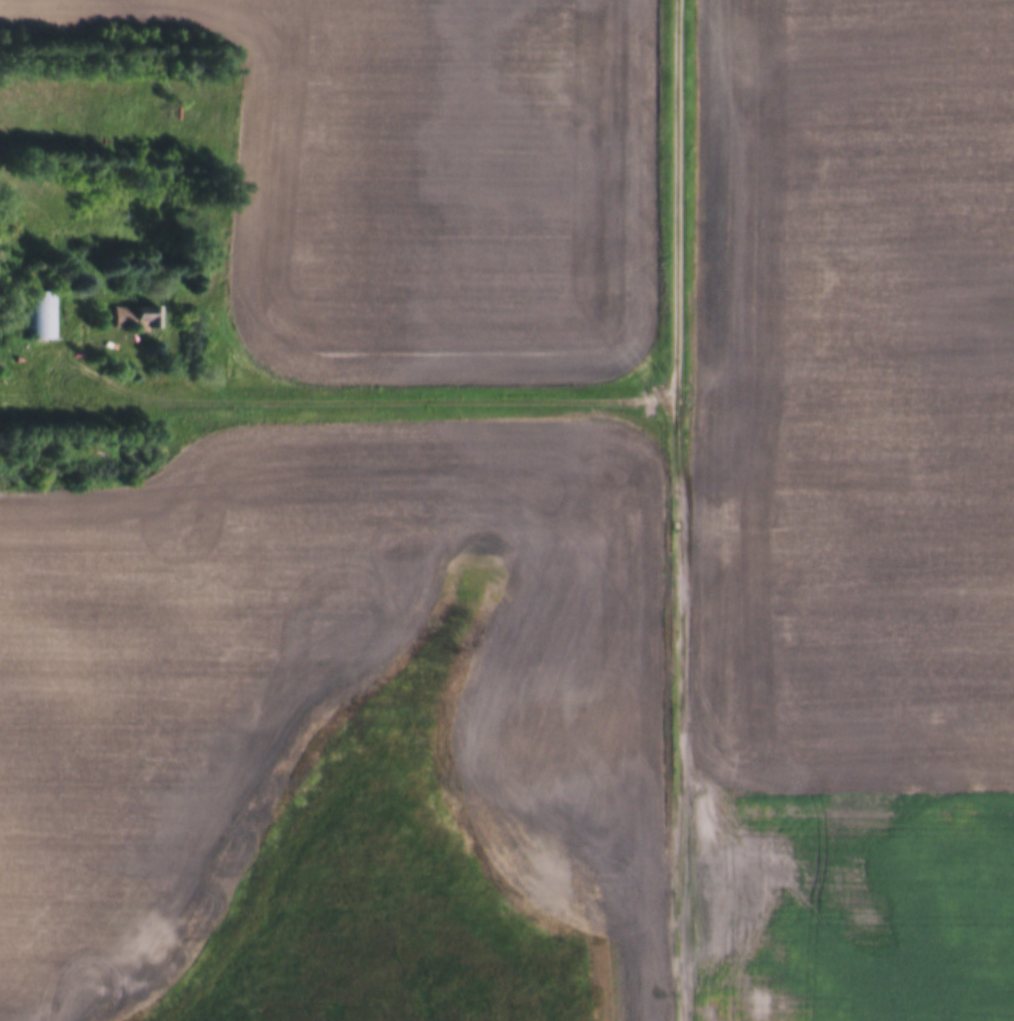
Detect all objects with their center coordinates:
road: (677, 199)
building: (41, 314)
building: (131, 316)
road: (338, 402)
road: (675, 710)

